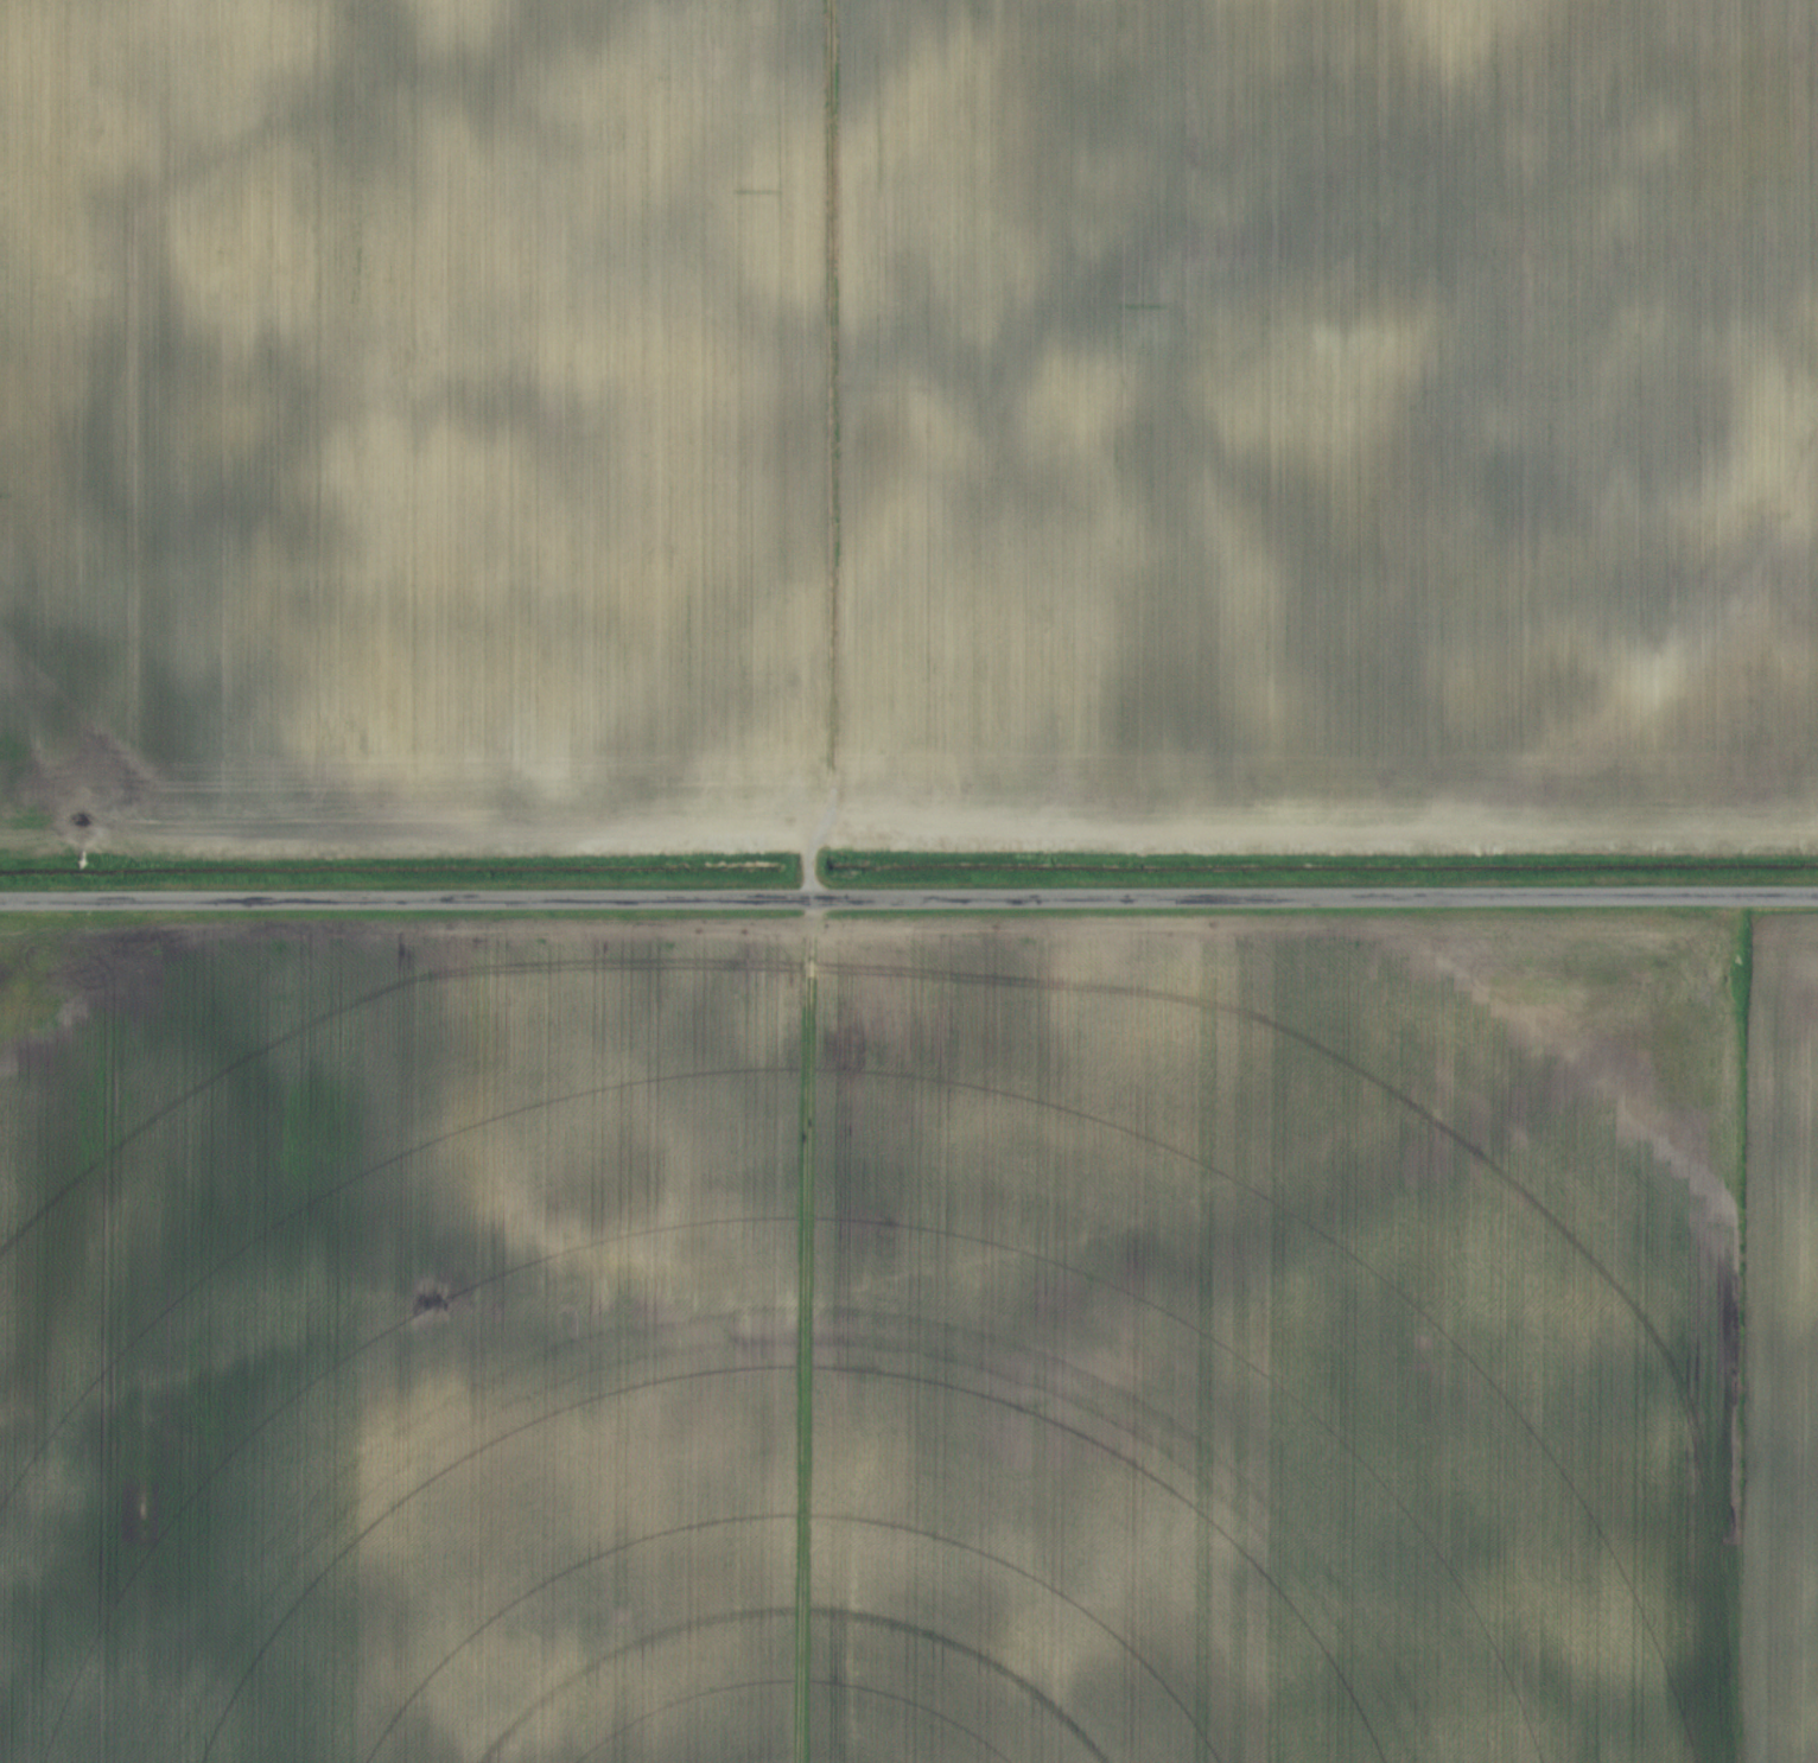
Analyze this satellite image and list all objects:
road: (909, 893)

